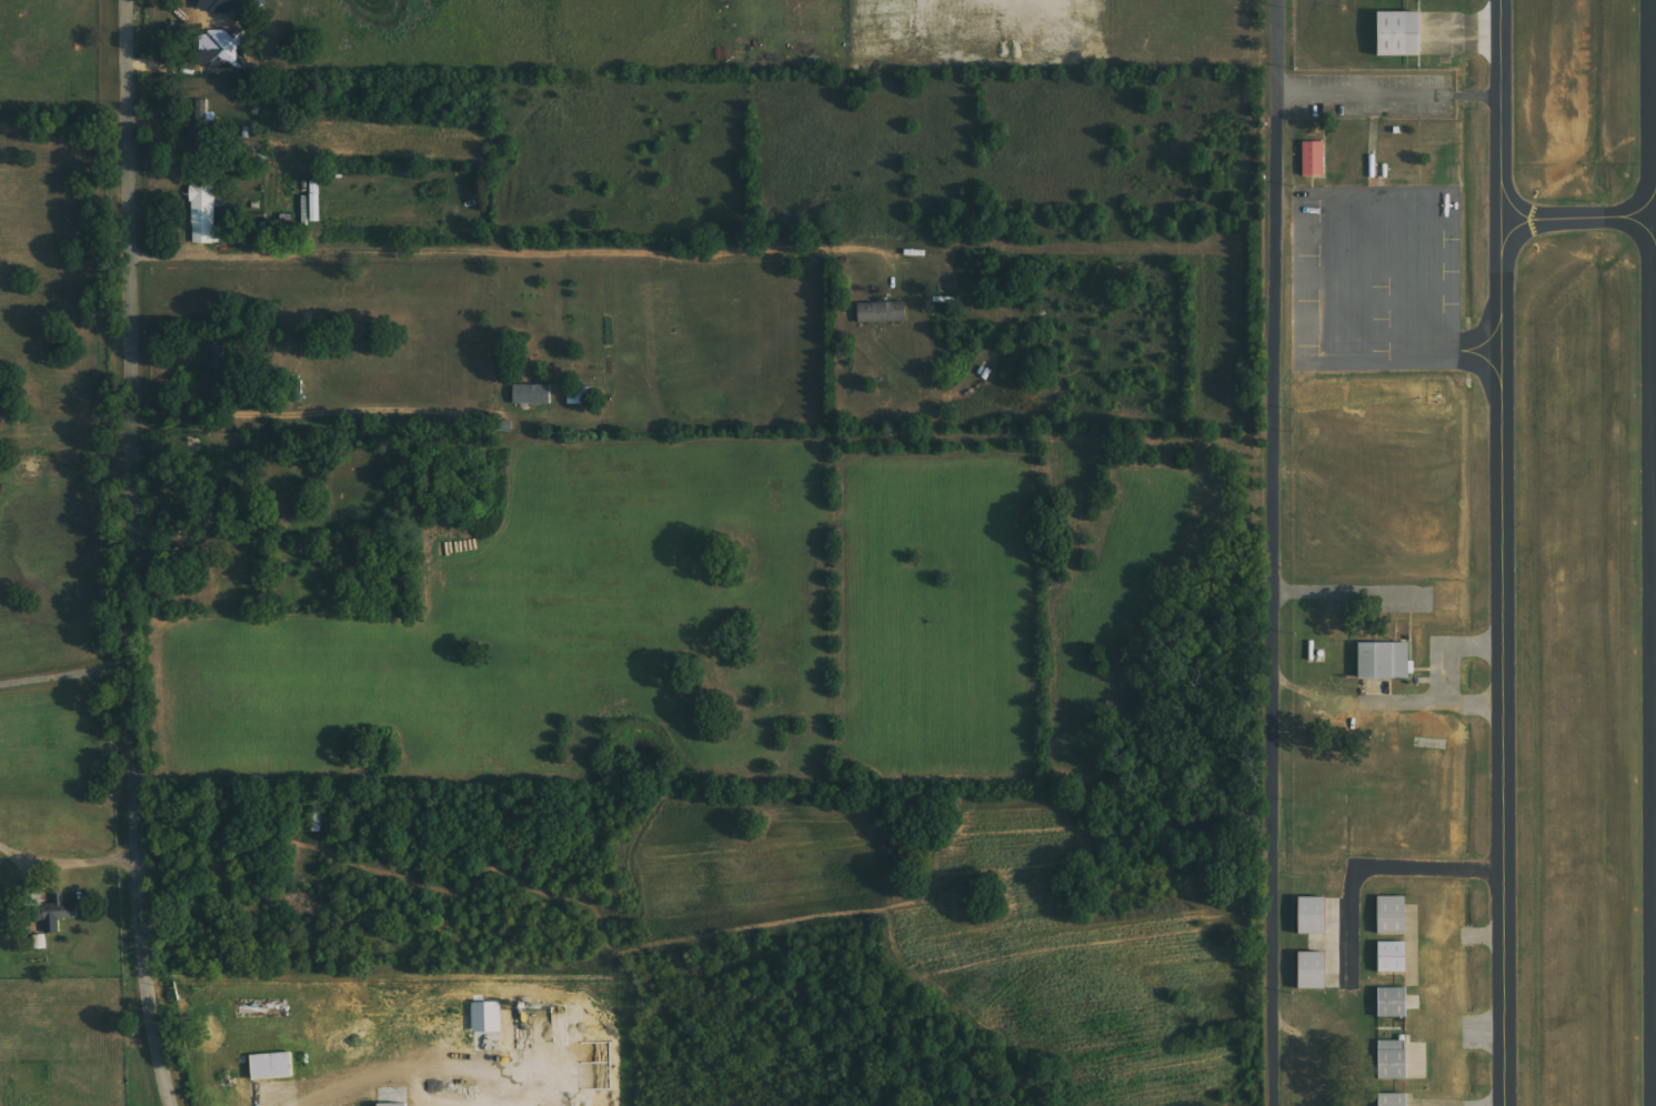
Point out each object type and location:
building: (1402, 34)
building: (1314, 159)
building: (317, 201)
building: (205, 213)
airport taxiway: (1558, 217)
road: (479, 252)
airport apron: (1375, 278)
building: (883, 312)
building: (220, 360)
building: (533, 394)
road: (1271, 552)
airport taxiway: (1501, 552)
road: (127, 554)
building: (1385, 661)
road: (64, 678)
building: (59, 912)
building: (1392, 915)
building: (1315, 916)
building: (39, 942)
building: (1394, 957)
building: (1314, 971)
building: (1393, 1003)
building: (488, 1016)
building: (1393, 1060)
building: (273, 1065)
building: (1394, 1099)
building: (394, 1104)

